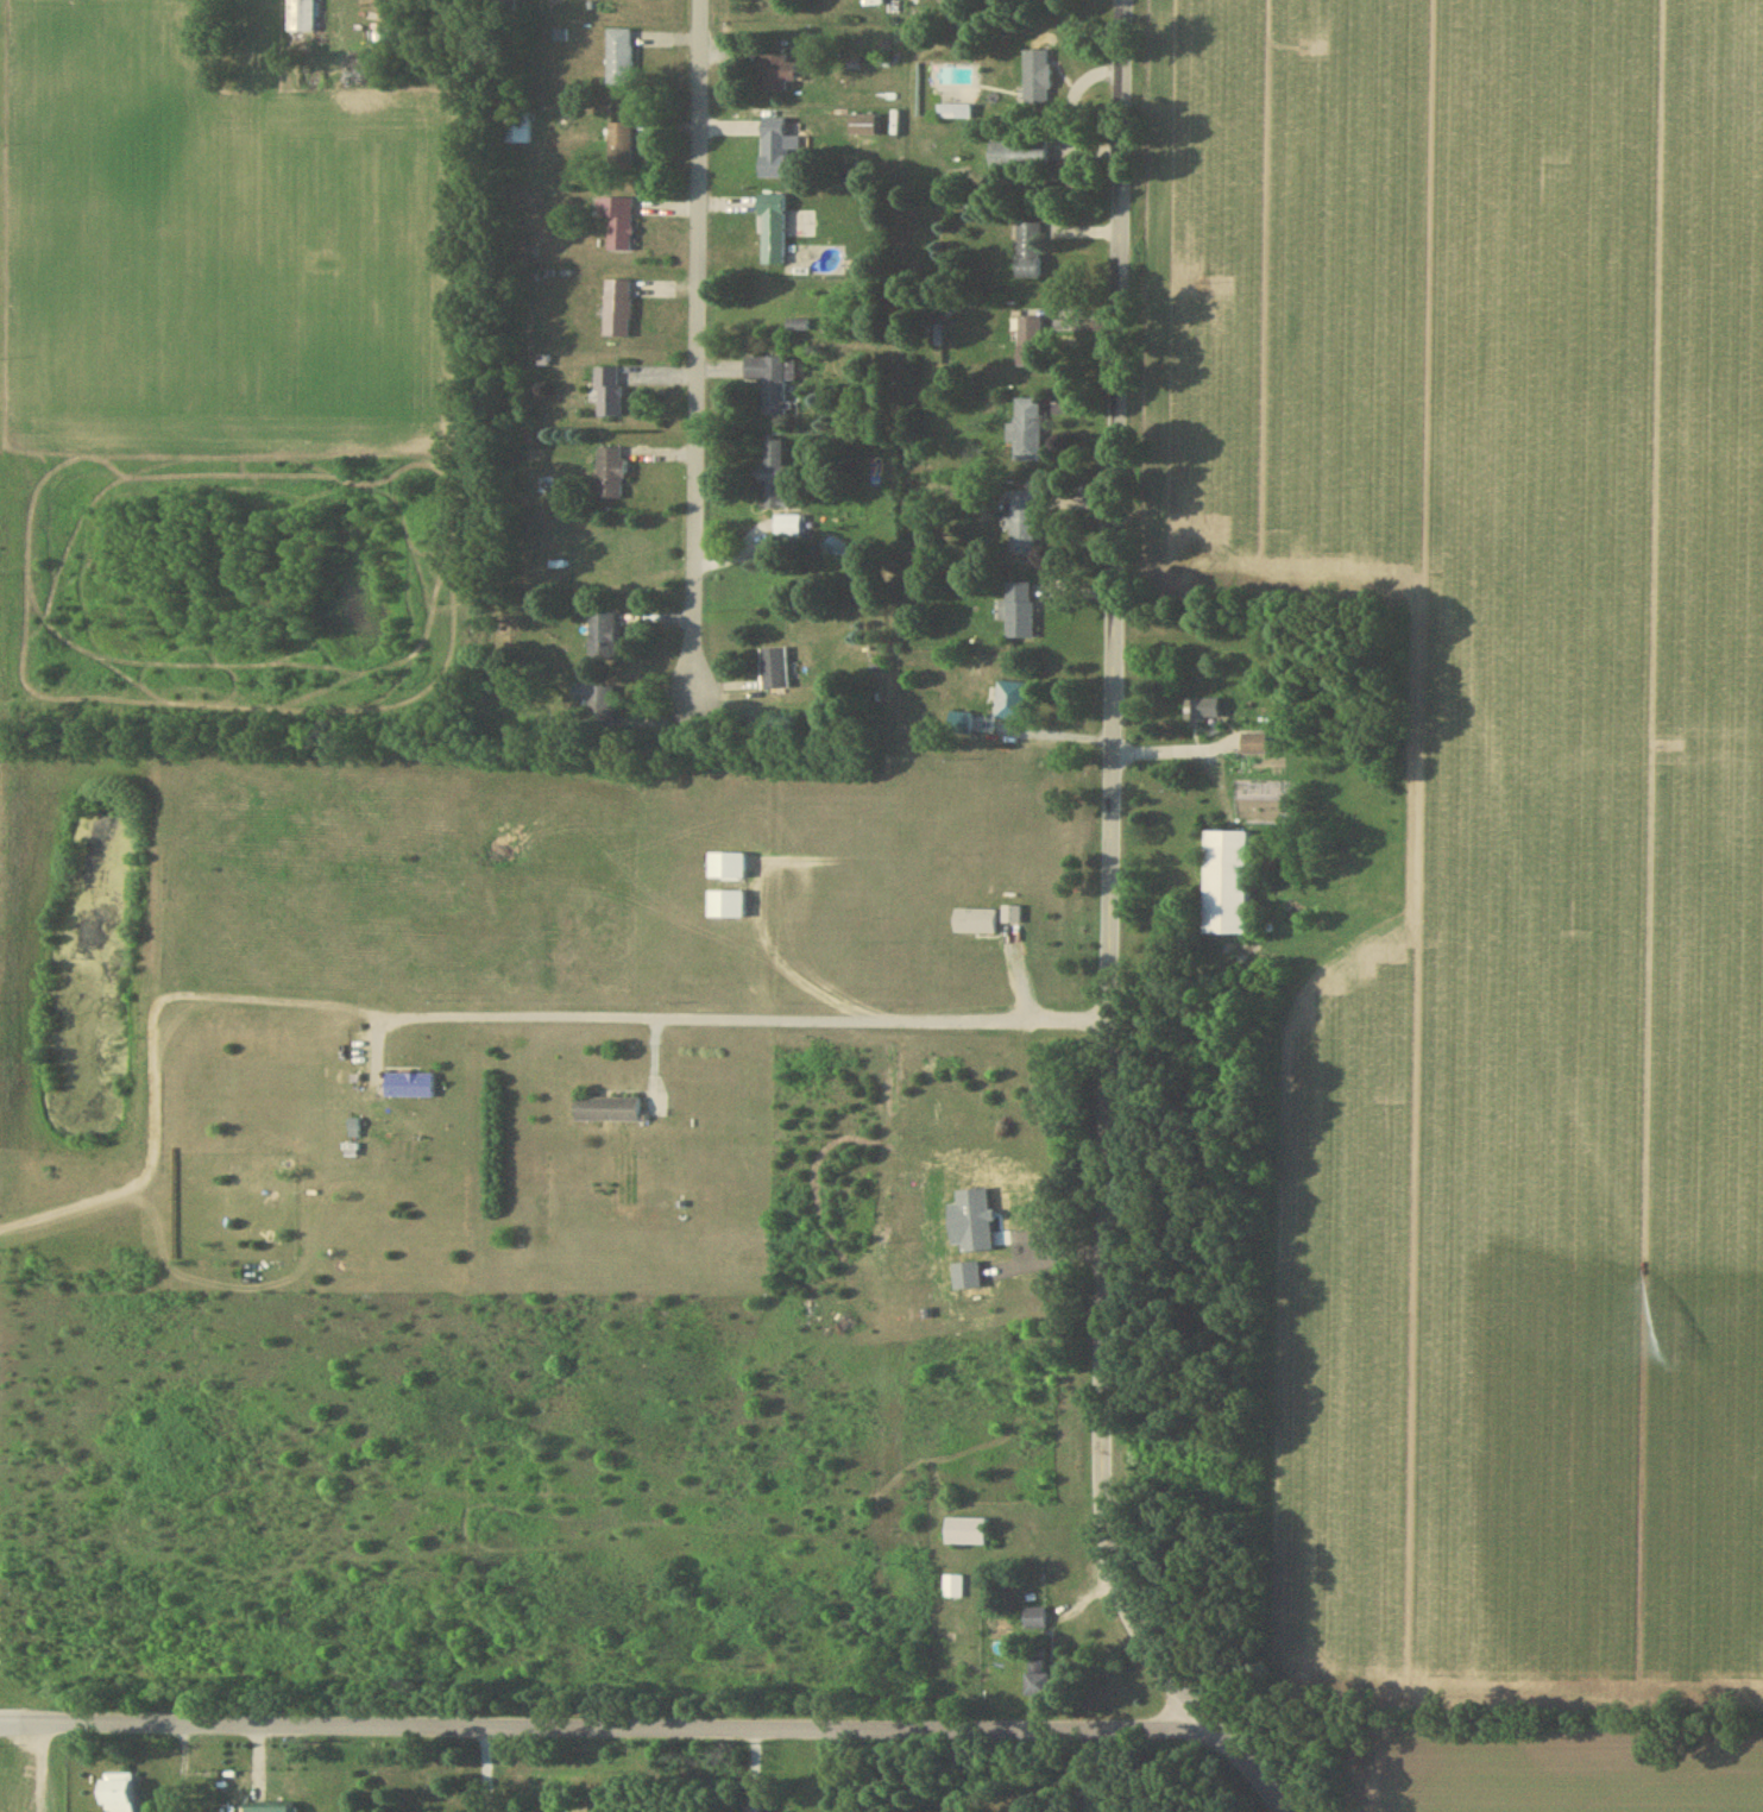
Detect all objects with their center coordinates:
road: (692, 370)
building: (610, 391)
building: (1027, 429)
building: (611, 472)
building: (775, 472)
building: (1024, 522)
building: (789, 526)
building: (1021, 610)
building: (604, 636)
building: (776, 667)
building: (1012, 700)
building: (600, 701)
building: (1205, 709)
building: (955, 723)
road: (1045, 731)
building: (1255, 743)
road: (1196, 748)
building: (730, 864)
building: (1230, 882)
road: (1107, 892)
building: (729, 904)
building: (1013, 914)
building: (976, 920)
road: (744, 1018)
building: (411, 1084)
building: (610, 1109)
building: (968, 1531)
building: (953, 1586)
building: (1035, 1617)
building: (1043, 1679)
road: (613, 1734)
road: (1254, 1778)
building: (121, 1792)
building: (283, 1806)

